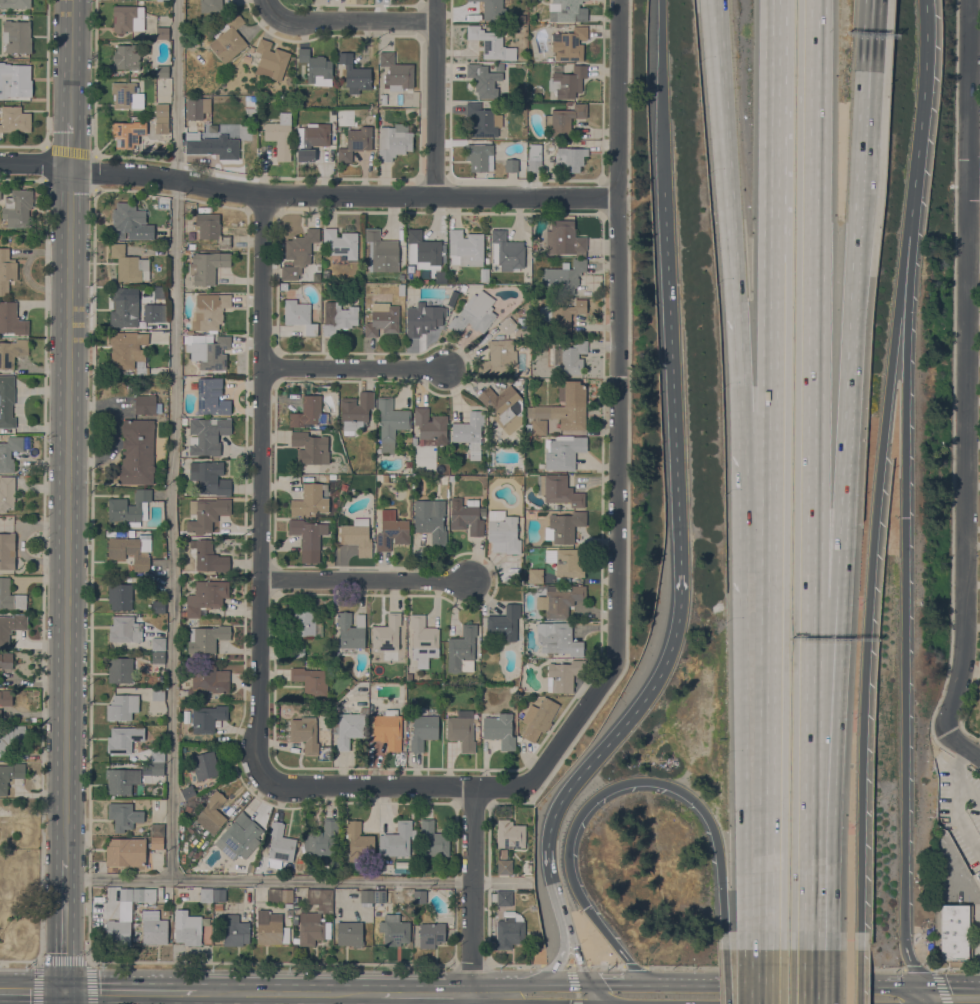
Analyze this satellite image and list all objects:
building: (164, 0)
building: (15, 3)
building: (210, 5)
building: (493, 10)
building: (567, 11)
building: (127, 18)
road: (347, 19)
building: (162, 33)
building: (17, 37)
building: (229, 38)
building: (491, 43)
building: (569, 44)
road: (869, 50)
building: (126, 57)
building: (247, 58)
road: (70, 60)
building: (271, 60)
building: (519, 65)
building: (499, 66)
building: (316, 67)
building: (161, 71)
building: (355, 72)
building: (396, 72)
building: (16, 79)
building: (484, 80)
building: (567, 81)
building: (123, 93)
road: (663, 95)
road: (437, 98)
building: (384, 99)
building: (195, 107)
building: (162, 109)
building: (372, 110)
road: (918, 118)
building: (14, 119)
building: (483, 120)
building: (564, 120)
building: (162, 122)
road: (774, 131)
building: (127, 133)
building: (280, 136)
building: (311, 138)
building: (394, 140)
building: (355, 141)
road: (69, 144)
building: (212, 145)
road: (729, 150)
building: (478, 156)
building: (534, 158)
building: (570, 158)
road: (864, 160)
road: (34, 164)
building: (511, 165)
road: (973, 180)
road: (342, 196)
building: (17, 208)
building: (130, 222)
building: (213, 229)
building: (564, 238)
building: (341, 242)
building: (465, 248)
building: (423, 250)
building: (381, 251)
building: (508, 251)
building: (298, 253)
building: (129, 264)
building: (207, 266)
building: (6, 270)
building: (317, 271)
building: (485, 272)
building: (526, 274)
building: (401, 276)
building: (563, 277)
building: (283, 285)
road: (813, 298)
building: (125, 306)
building: (210, 310)
road: (905, 310)
building: (155, 312)
building: (474, 313)
building: (516, 313)
building: (501, 314)
building: (299, 315)
building: (561, 315)
building: (425, 316)
building: (12, 319)
building: (341, 319)
building: (382, 319)
building: (507, 324)
road: (965, 324)
road: (773, 338)
building: (128, 350)
building: (208, 350)
building: (12, 352)
road: (756, 357)
building: (498, 358)
building: (569, 358)
road: (352, 367)
building: (518, 384)
building: (211, 397)
building: (6, 401)
building: (145, 405)
building: (504, 407)
road: (836, 408)
building: (560, 409)
building: (308, 412)
building: (356, 412)
building: (390, 423)
building: (430, 425)
road: (616, 432)
building: (470, 433)
building: (207, 435)
road: (176, 440)
building: (310, 448)
building: (563, 451)
building: (9, 452)
building: (136, 452)
building: (541, 465)
building: (332, 476)
building: (209, 477)
building: (441, 480)
road: (262, 486)
building: (558, 490)
building: (7, 493)
building: (309, 500)
building: (129, 508)
road: (772, 509)
road: (67, 513)
building: (206, 513)
building: (466, 516)
building: (430, 519)
building: (565, 526)
building: (503, 532)
building: (131, 533)
building: (392, 533)
building: (357, 536)
building: (308, 537)
building: (131, 550)
building: (7, 551)
building: (208, 556)
building: (568, 561)
building: (535, 575)
road: (365, 581)
road: (684, 581)
building: (10, 596)
building: (120, 596)
building: (206, 596)
building: (560, 600)
building: (159, 606)
road: (868, 619)
building: (306, 624)
building: (505, 624)
building: (11, 626)
building: (125, 629)
building: (351, 631)
building: (387, 633)
building: (206, 638)
building: (558, 638)
building: (423, 640)
building: (158, 643)
building: (297, 650)
building: (462, 650)
building: (158, 657)
building: (6, 660)
building: (120, 669)
building: (389, 675)
building: (564, 675)
building: (208, 680)
building: (311, 680)
road: (904, 685)
building: (158, 694)
building: (6, 696)
building: (122, 707)
road: (948, 710)
building: (0, 715)
building: (207, 718)
building: (540, 720)
building: (348, 727)
building: (388, 729)
building: (462, 730)
building: (500, 730)
building: (423, 731)
building: (305, 733)
building: (10, 737)
building: (123, 738)
building: (157, 755)
building: (205, 765)
building: (157, 768)
road: (809, 773)
road: (956, 773)
building: (10, 774)
building: (122, 780)
road: (368, 784)
building: (188, 792)
road: (590, 803)
road: (769, 804)
building: (212, 813)
building: (124, 816)
building: (157, 829)
building: (510, 834)
building: (239, 836)
building: (323, 838)
building: (398, 840)
building: (433, 840)
building: (359, 842)
building: (156, 843)
building: (279, 846)
building: (126, 851)
building: (503, 853)
building: (504, 866)
building: (250, 867)
building: (978, 874)
road: (291, 880)
road: (473, 890)
building: (125, 893)
building: (144, 894)
building: (206, 894)
building: (218, 894)
building: (279, 895)
building: (419, 896)
building: (366, 897)
building: (502, 897)
building: (379, 899)
building: (288, 905)
building: (218, 906)
traffic signals: (586, 907)
building: (289, 912)
building: (379, 916)
building: (295, 917)
building: (316, 917)
road: (978, 923)
road: (64, 925)
building: (187, 928)
building: (270, 928)
building: (395, 929)
building: (235, 930)
building: (509, 930)
building: (117, 931)
building: (154, 931)
building: (350, 933)
building: (431, 934)
building: (956, 934)
building: (209, 941)
road: (567, 941)
road: (733, 946)
road: (578, 955)
road: (19, 960)
road: (63, 960)
road: (272, 962)
road: (514, 964)
road: (472, 965)
road: (556, 965)
road: (579, 965)
road: (606, 966)
road: (634, 967)
road: (955, 968)
road: (552, 969)
road: (933, 975)
road: (807, 977)
traffic signals: (590, 981)
road: (619, 981)
road: (683, 981)
road: (529, 982)
road: (574, 984)
traffic signals: (923, 984)
road: (924, 984)
road: (32, 991)
traffic signals: (65, 992)
road: (131, 992)
road: (598, 992)
road: (288, 993)
road: (426, 994)
road: (928, 994)
road: (64, 998)
road: (472, 999)
road: (487, 999)

